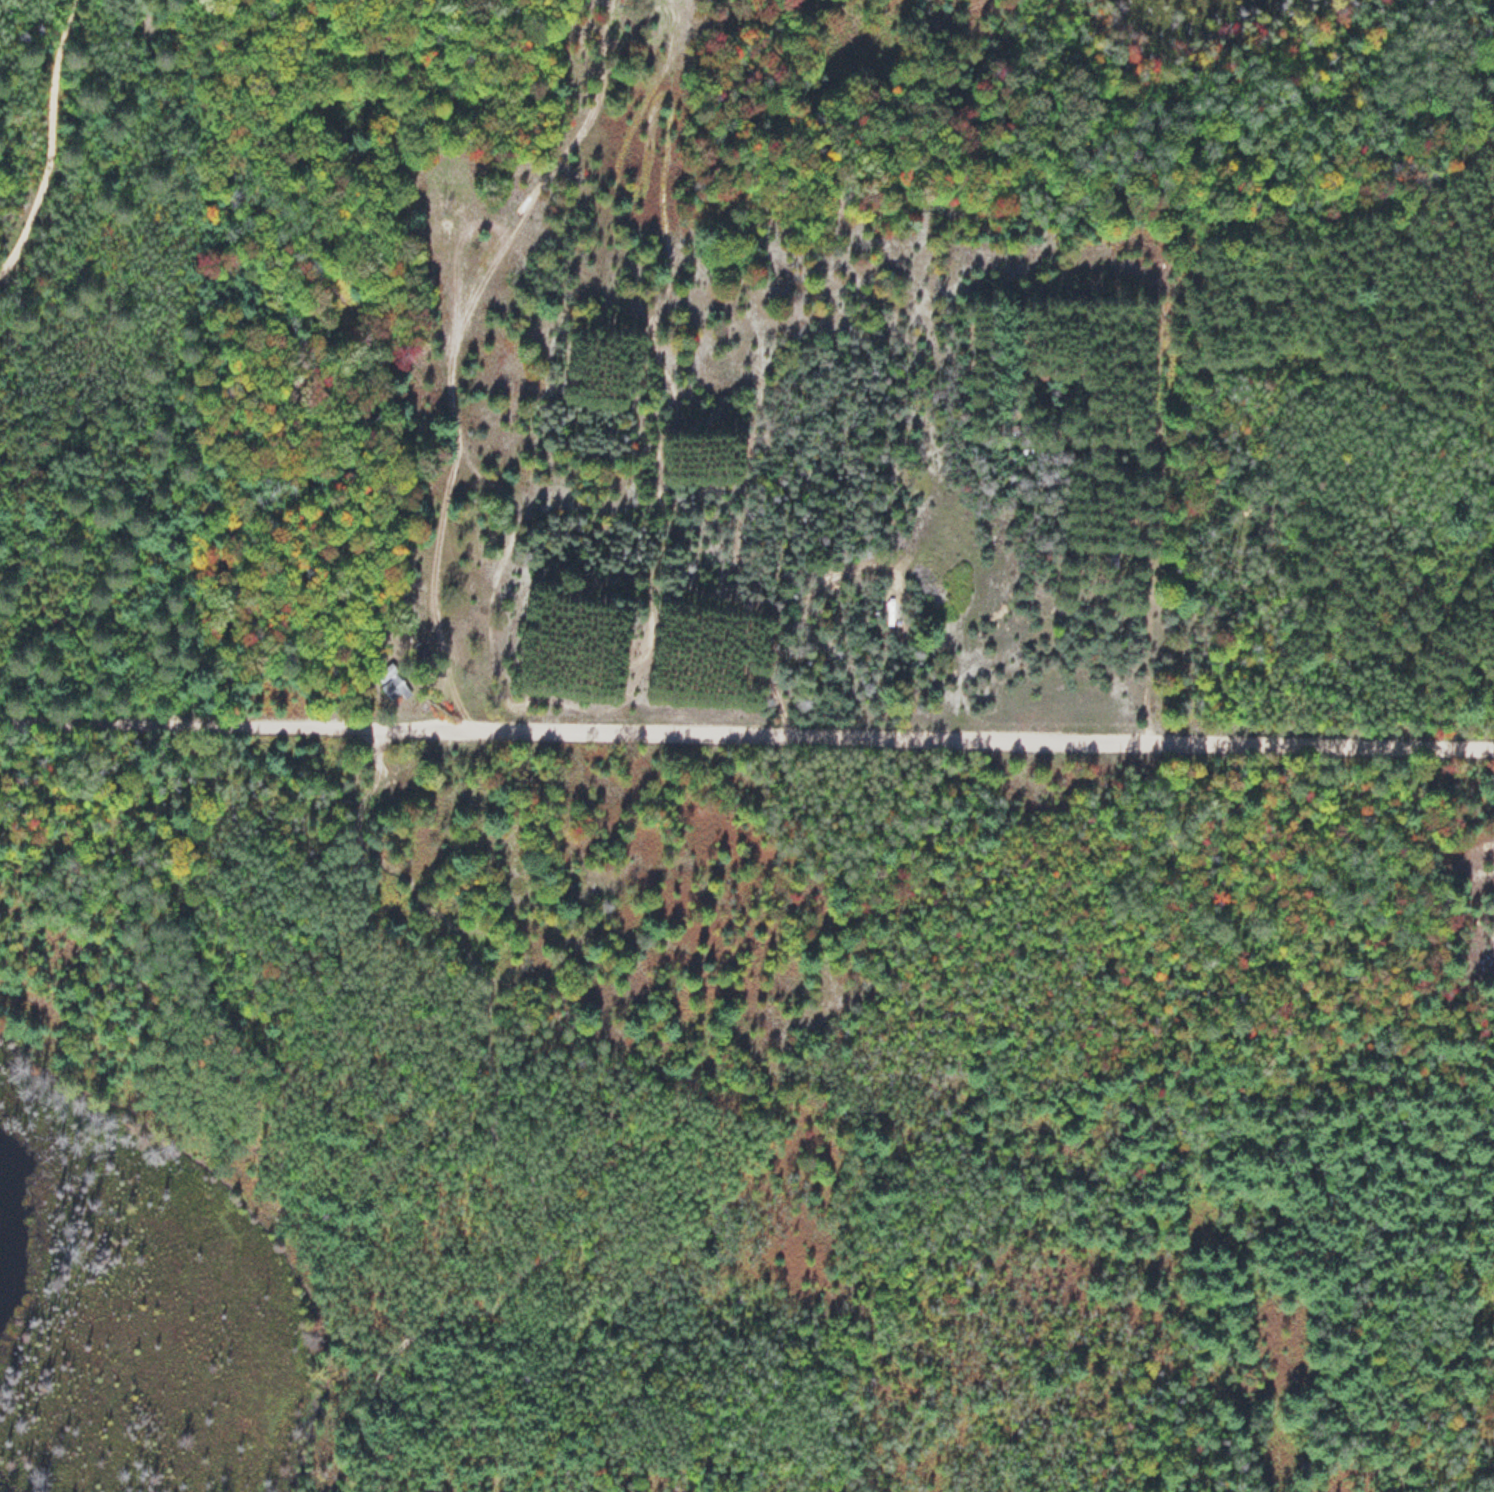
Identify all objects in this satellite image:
road: (55, 138)
building: (1111, 560)
building: (389, 682)
road: (746, 731)
road: (504, 1150)

